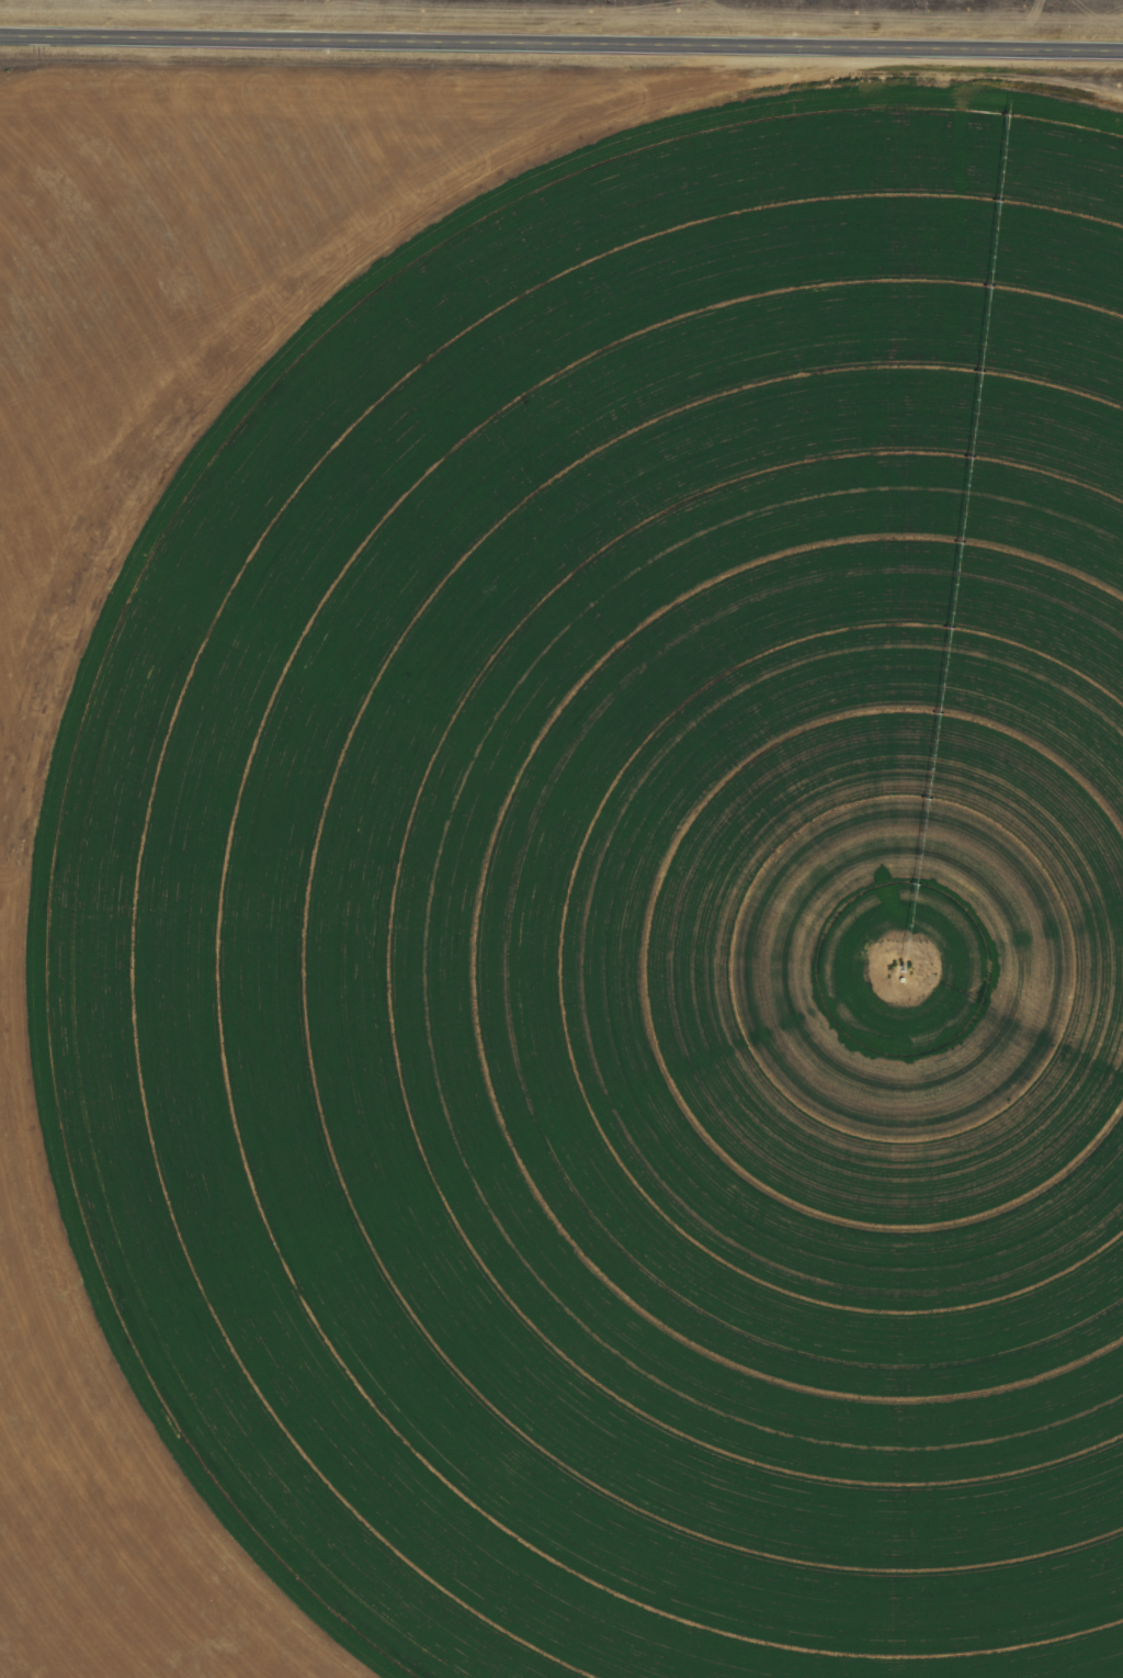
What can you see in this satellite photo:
road: (13, 18)
road: (561, 41)

